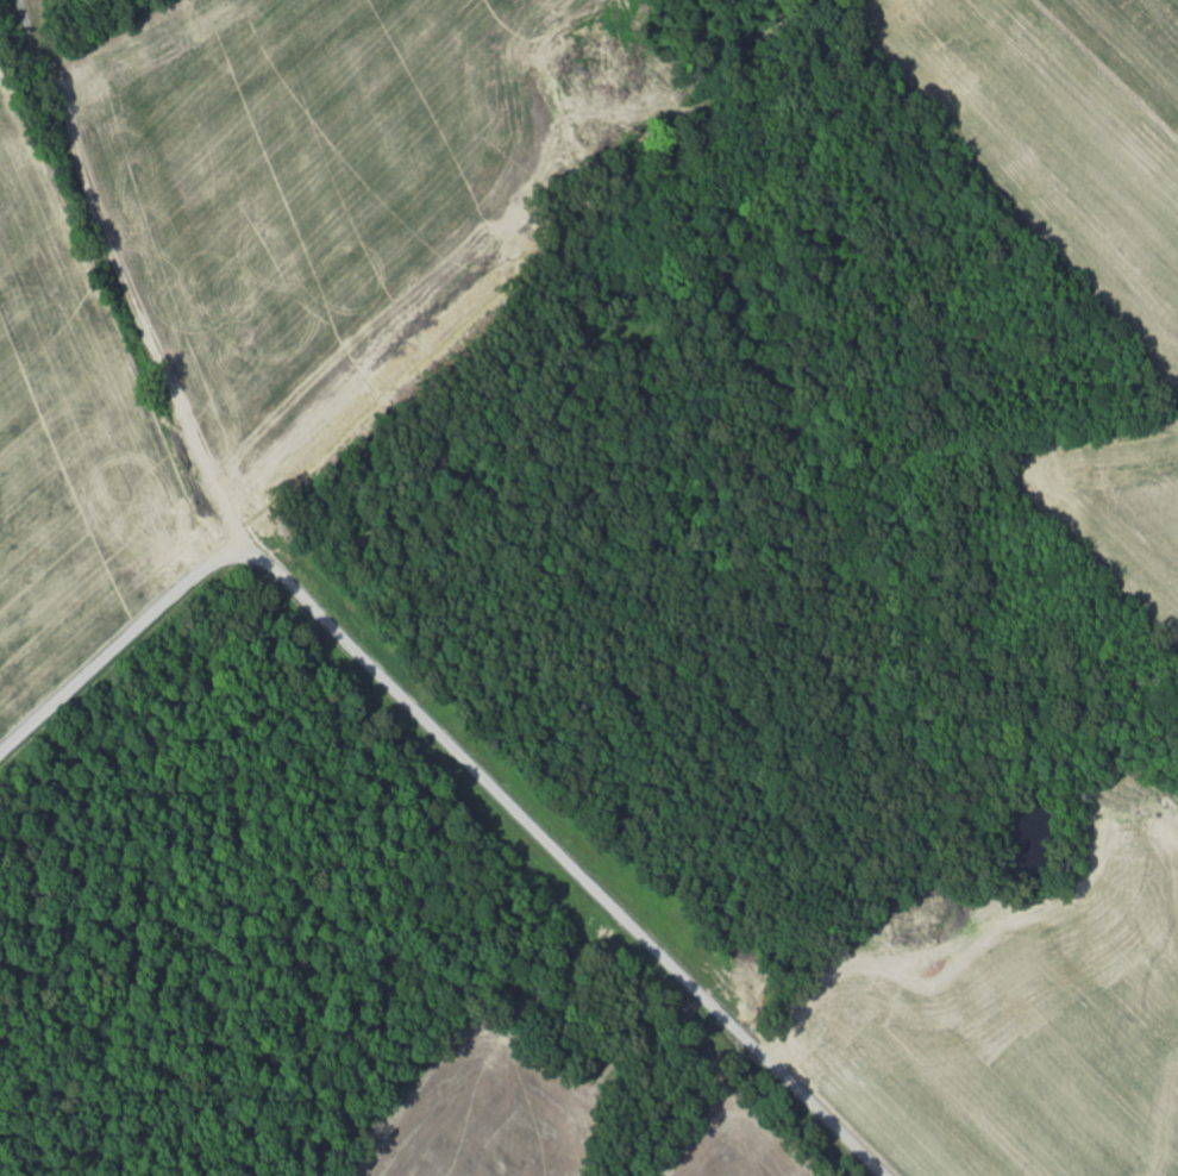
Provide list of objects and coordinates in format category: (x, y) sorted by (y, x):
road: (549, 271)
road: (125, 639)
road: (571, 867)

